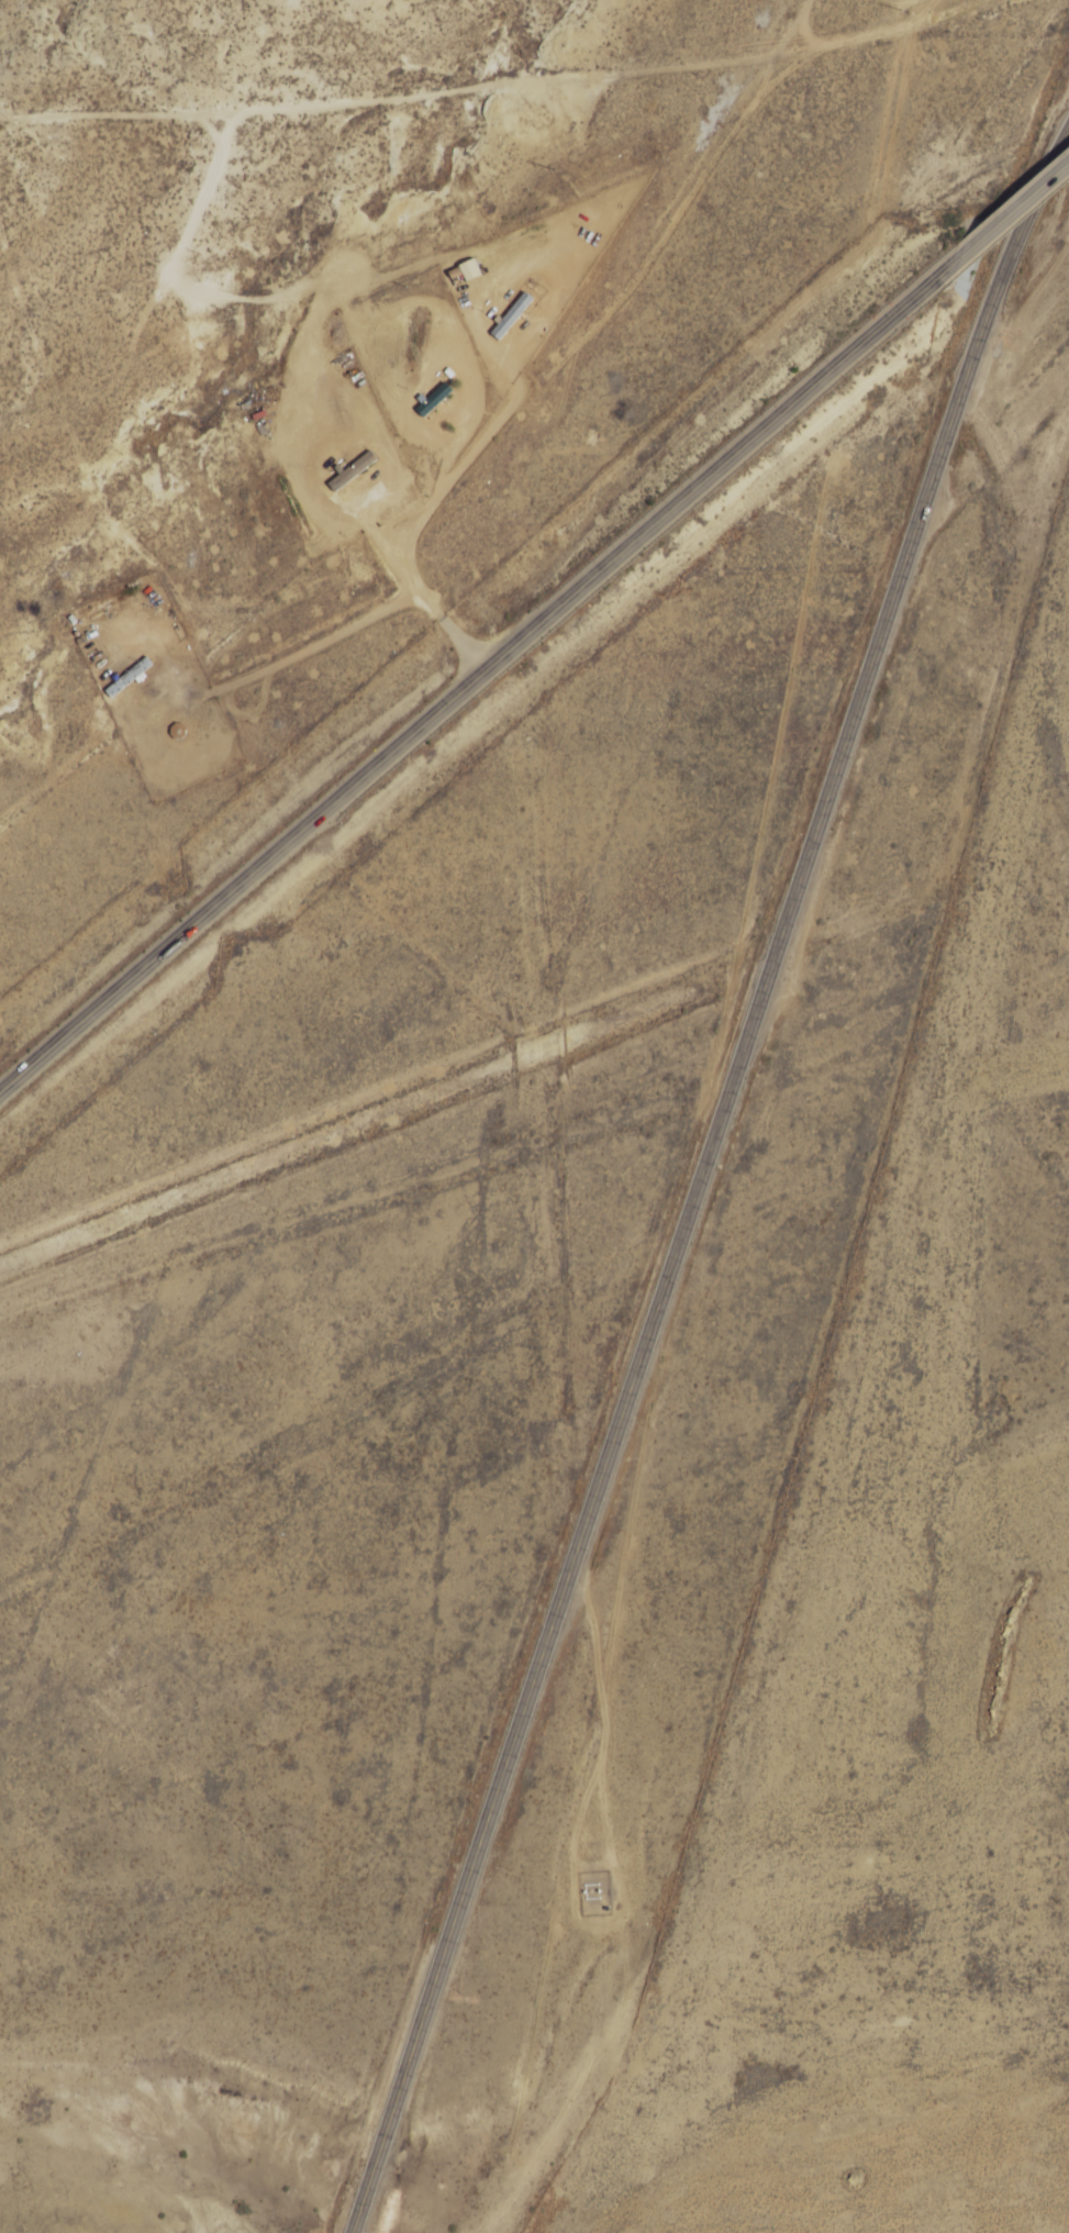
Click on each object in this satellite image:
road: (1006, 215)
building: (469, 269)
building: (511, 314)
building: (432, 398)
building: (353, 470)
road: (720, 470)
building: (129, 677)
road: (247, 882)
road: (617, 1022)
road: (704, 1178)

